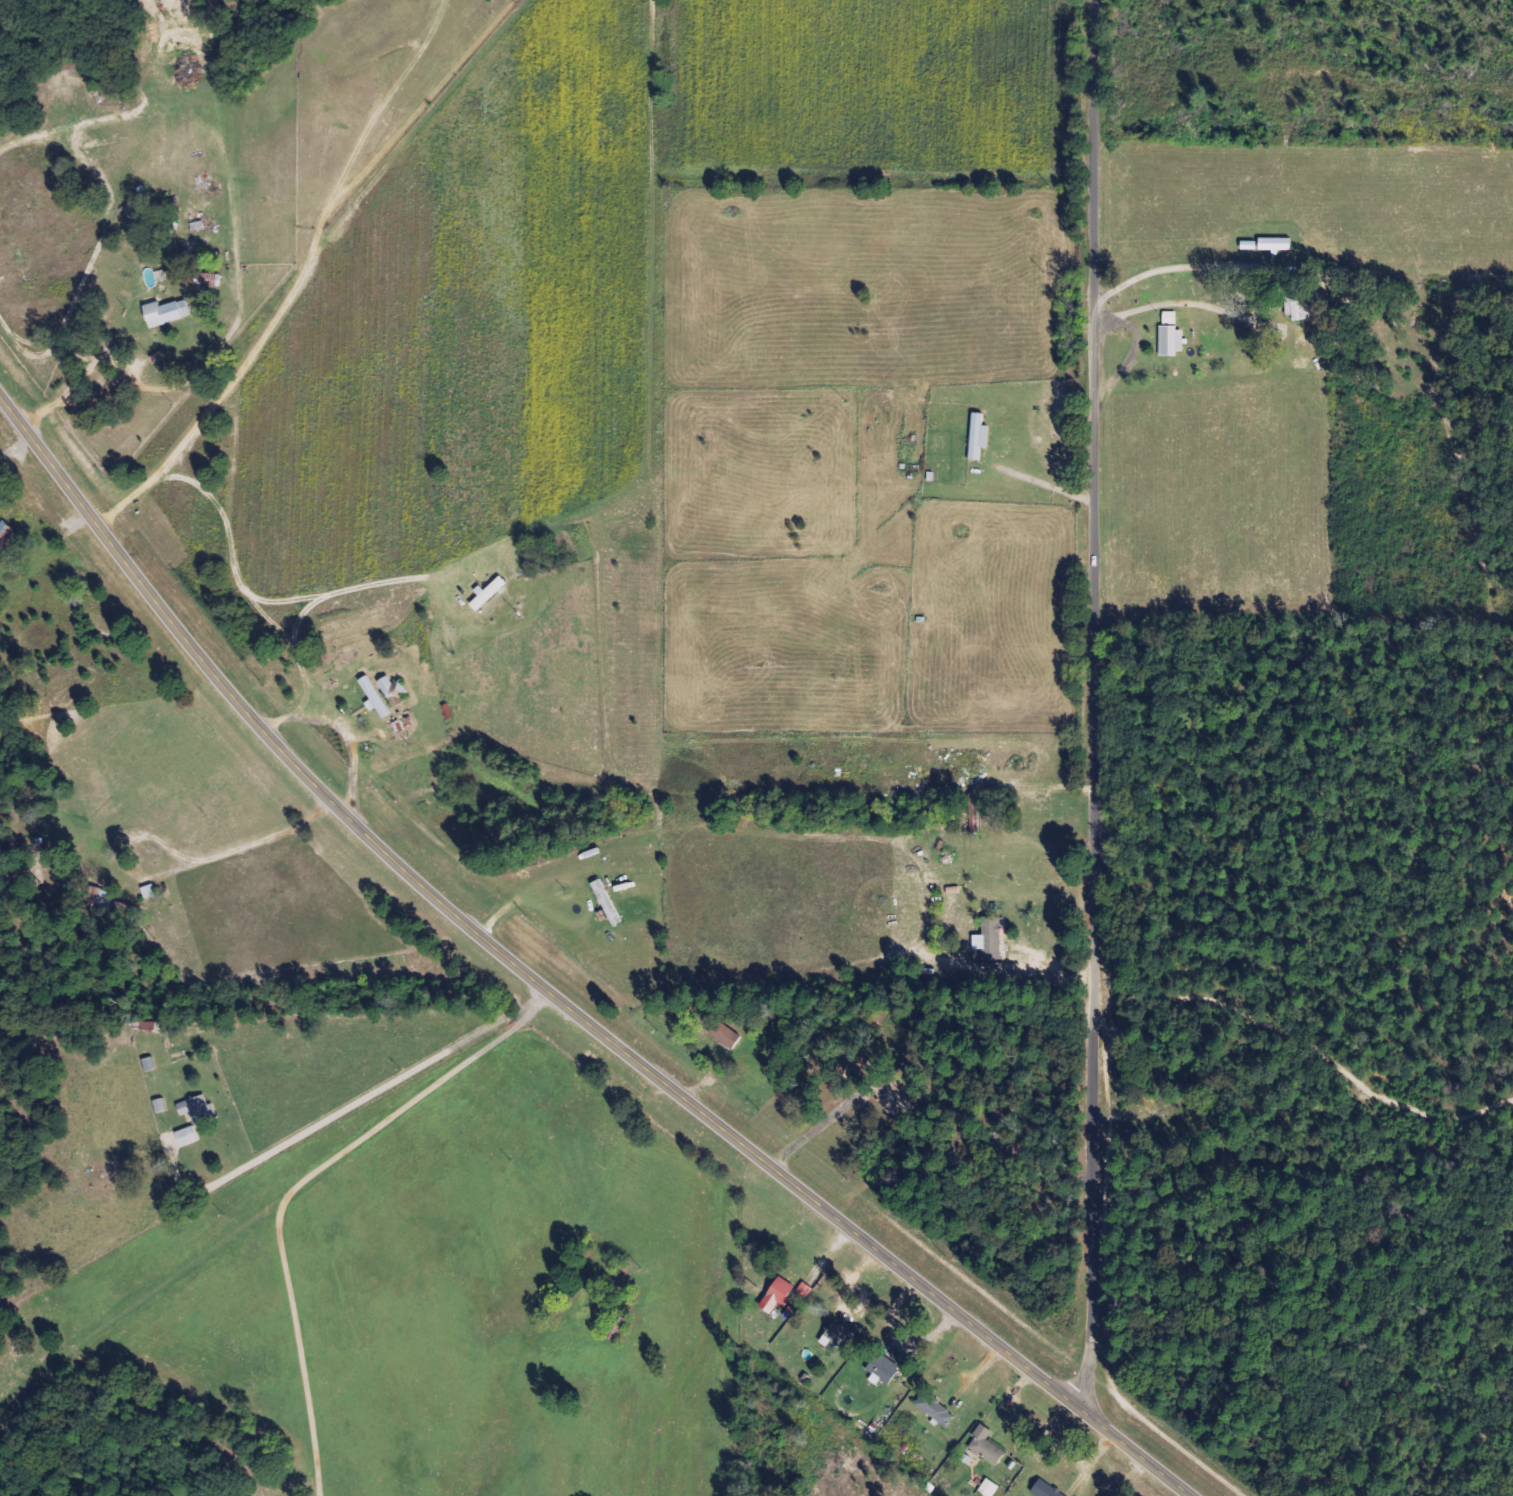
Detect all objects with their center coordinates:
building: (1278, 244)
road: (302, 257)
building: (168, 312)
building: (1172, 335)
building: (5, 529)
building: (396, 691)
building: (376, 698)
road: (1095, 701)
road: (249, 845)
building: (993, 938)
road: (545, 989)
building: (727, 1034)
road: (371, 1094)
building: (162, 1105)
building: (199, 1109)
building: (189, 1136)
road: (298, 1186)
building: (806, 1290)
building: (780, 1295)
building: (839, 1335)
building: (885, 1370)
building: (937, 1410)
building: (988, 1446)
building: (990, 1488)
building: (1047, 1489)

